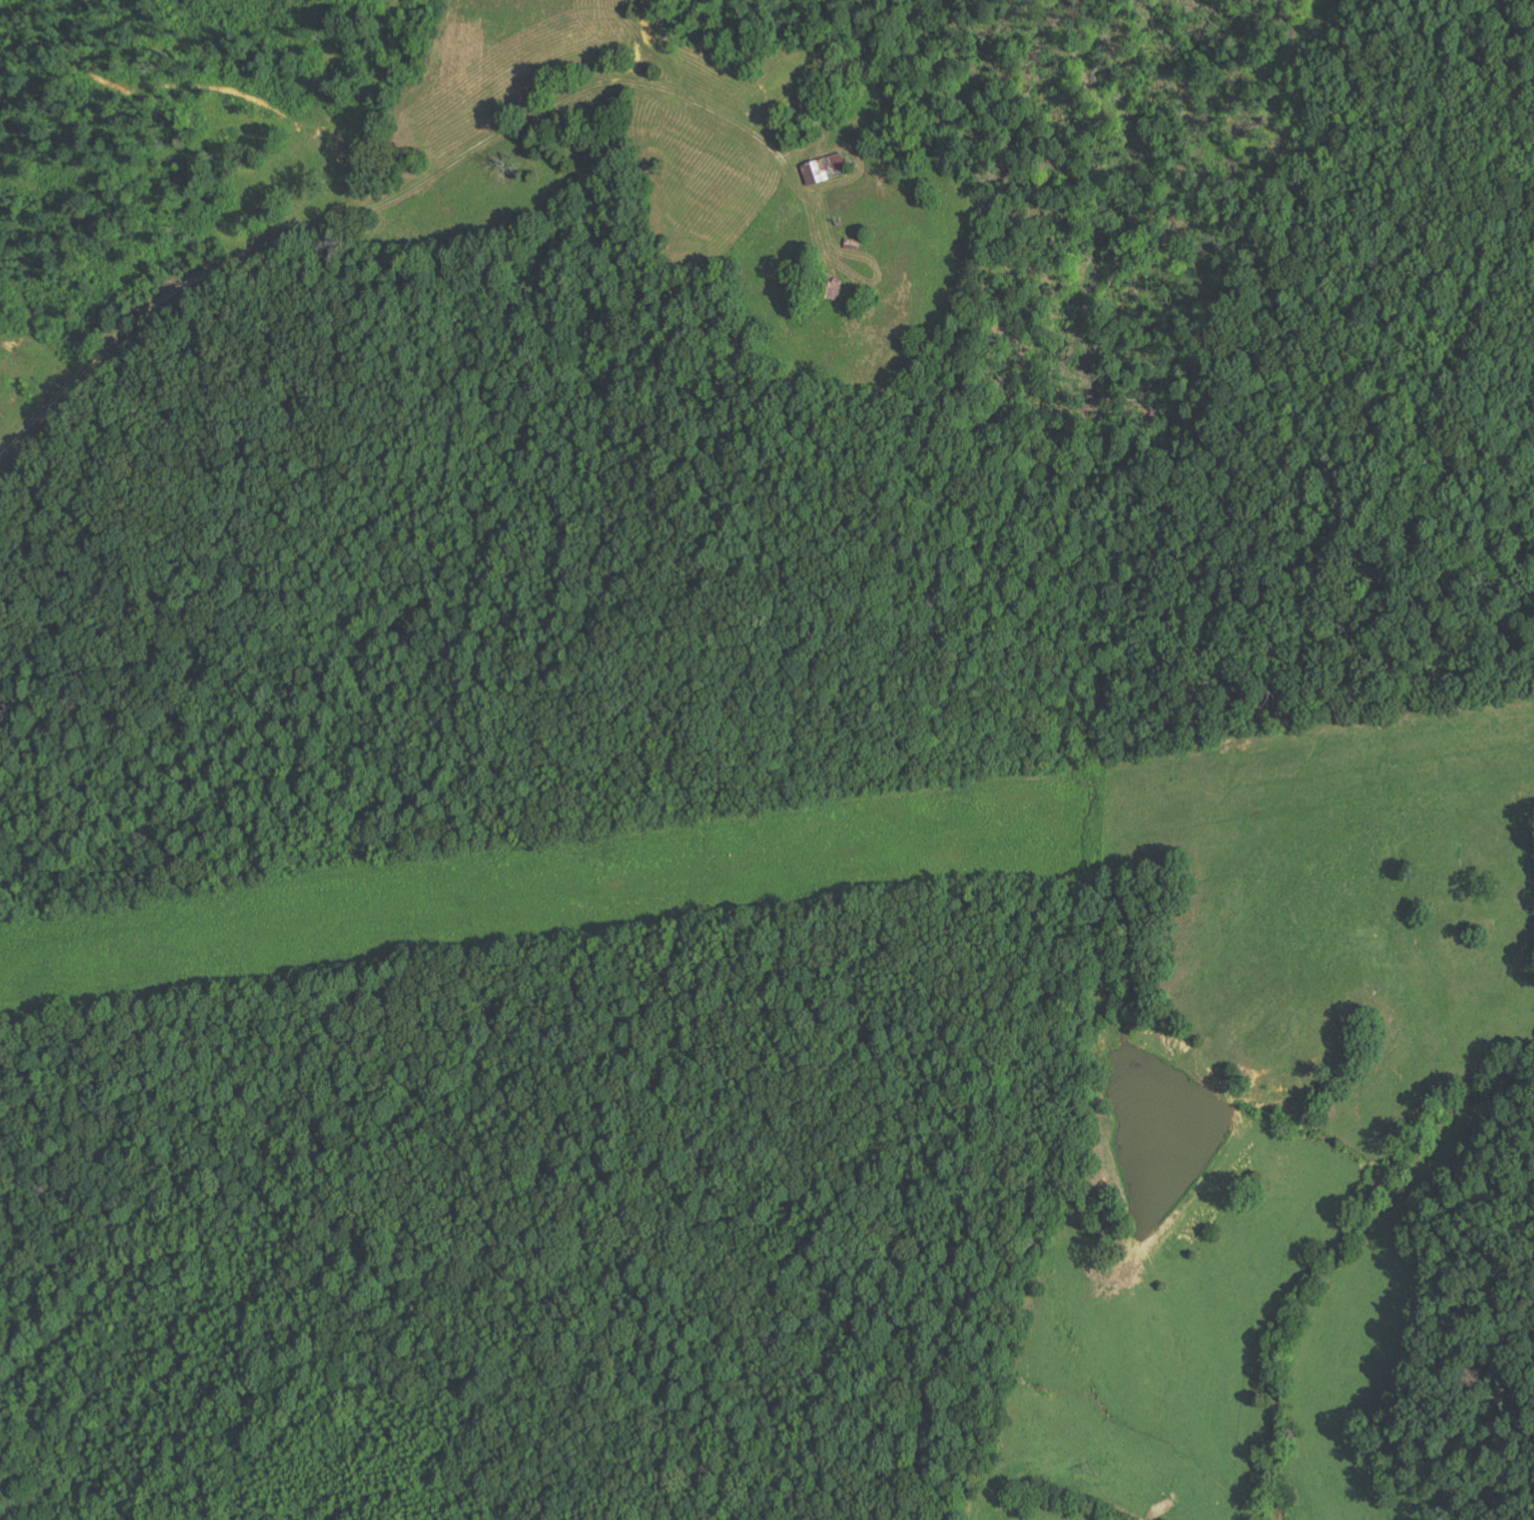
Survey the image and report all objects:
building: (825, 168)

